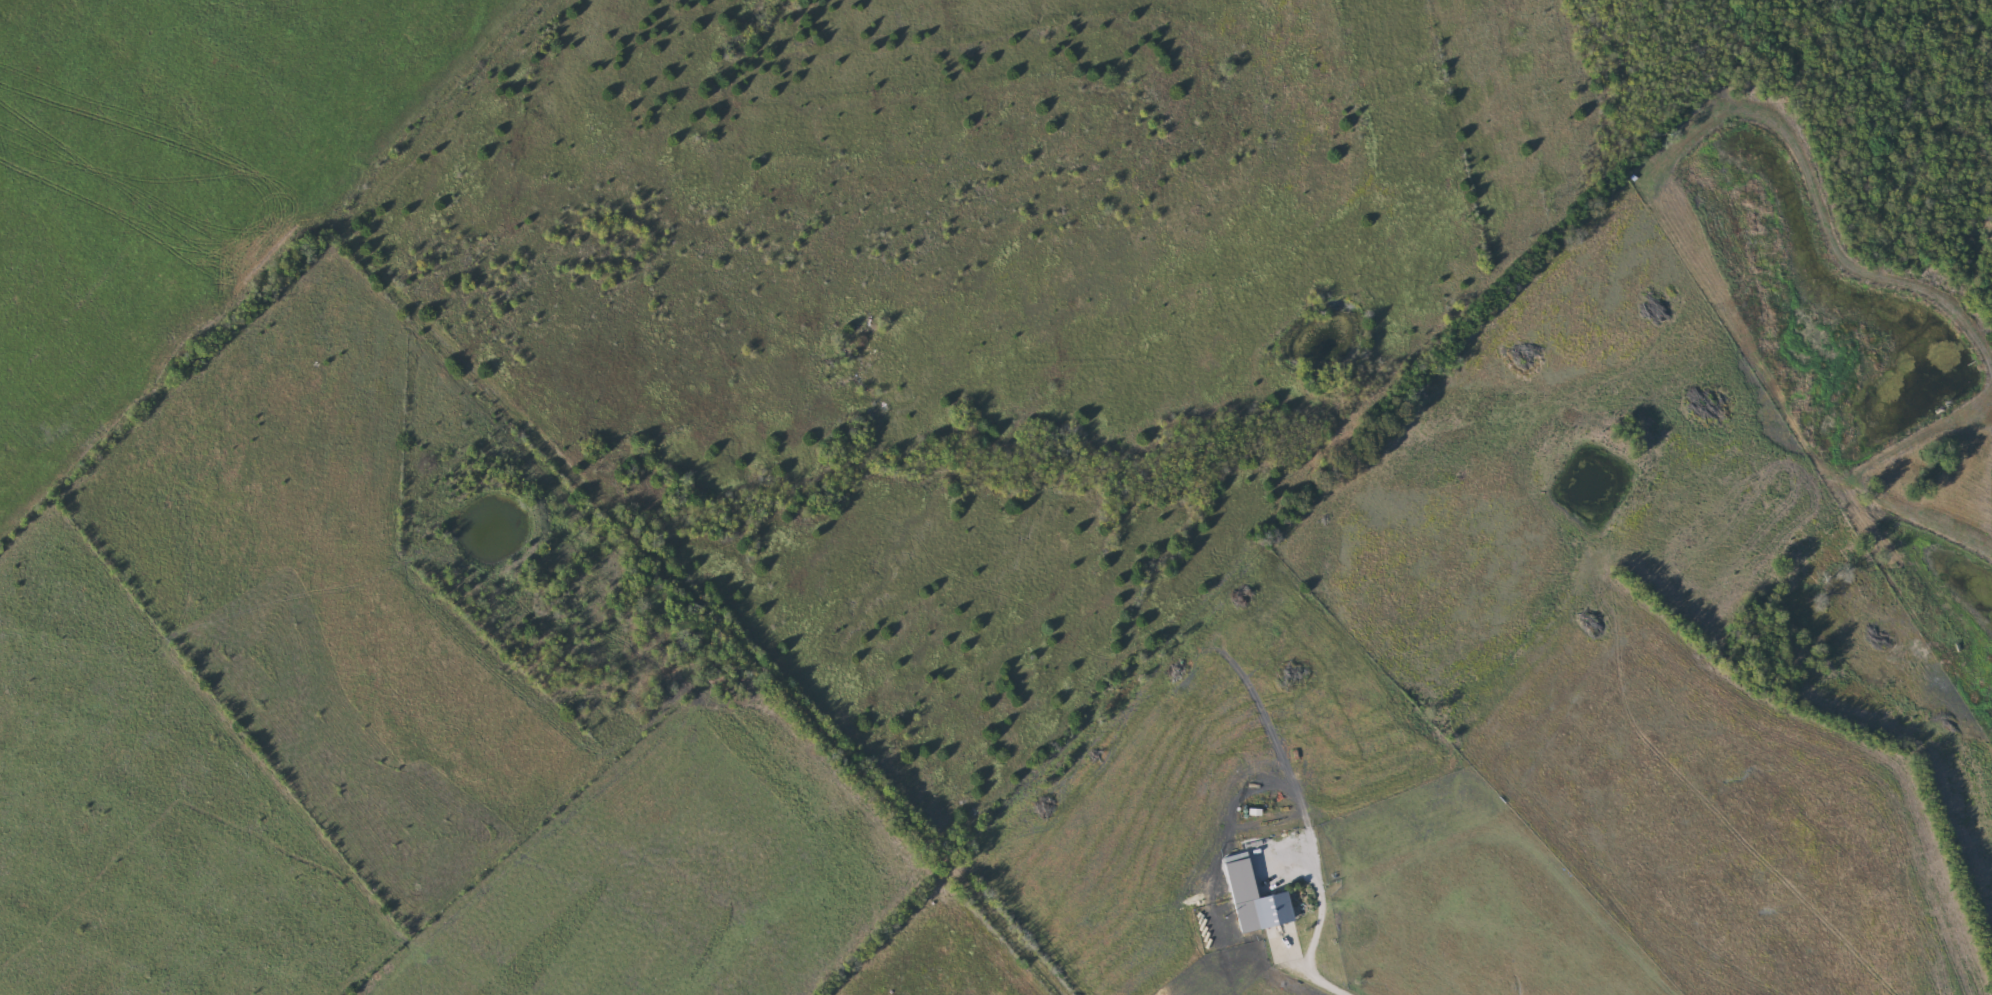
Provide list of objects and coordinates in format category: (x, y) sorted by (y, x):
building: (1277, 911)
road: (1325, 987)

